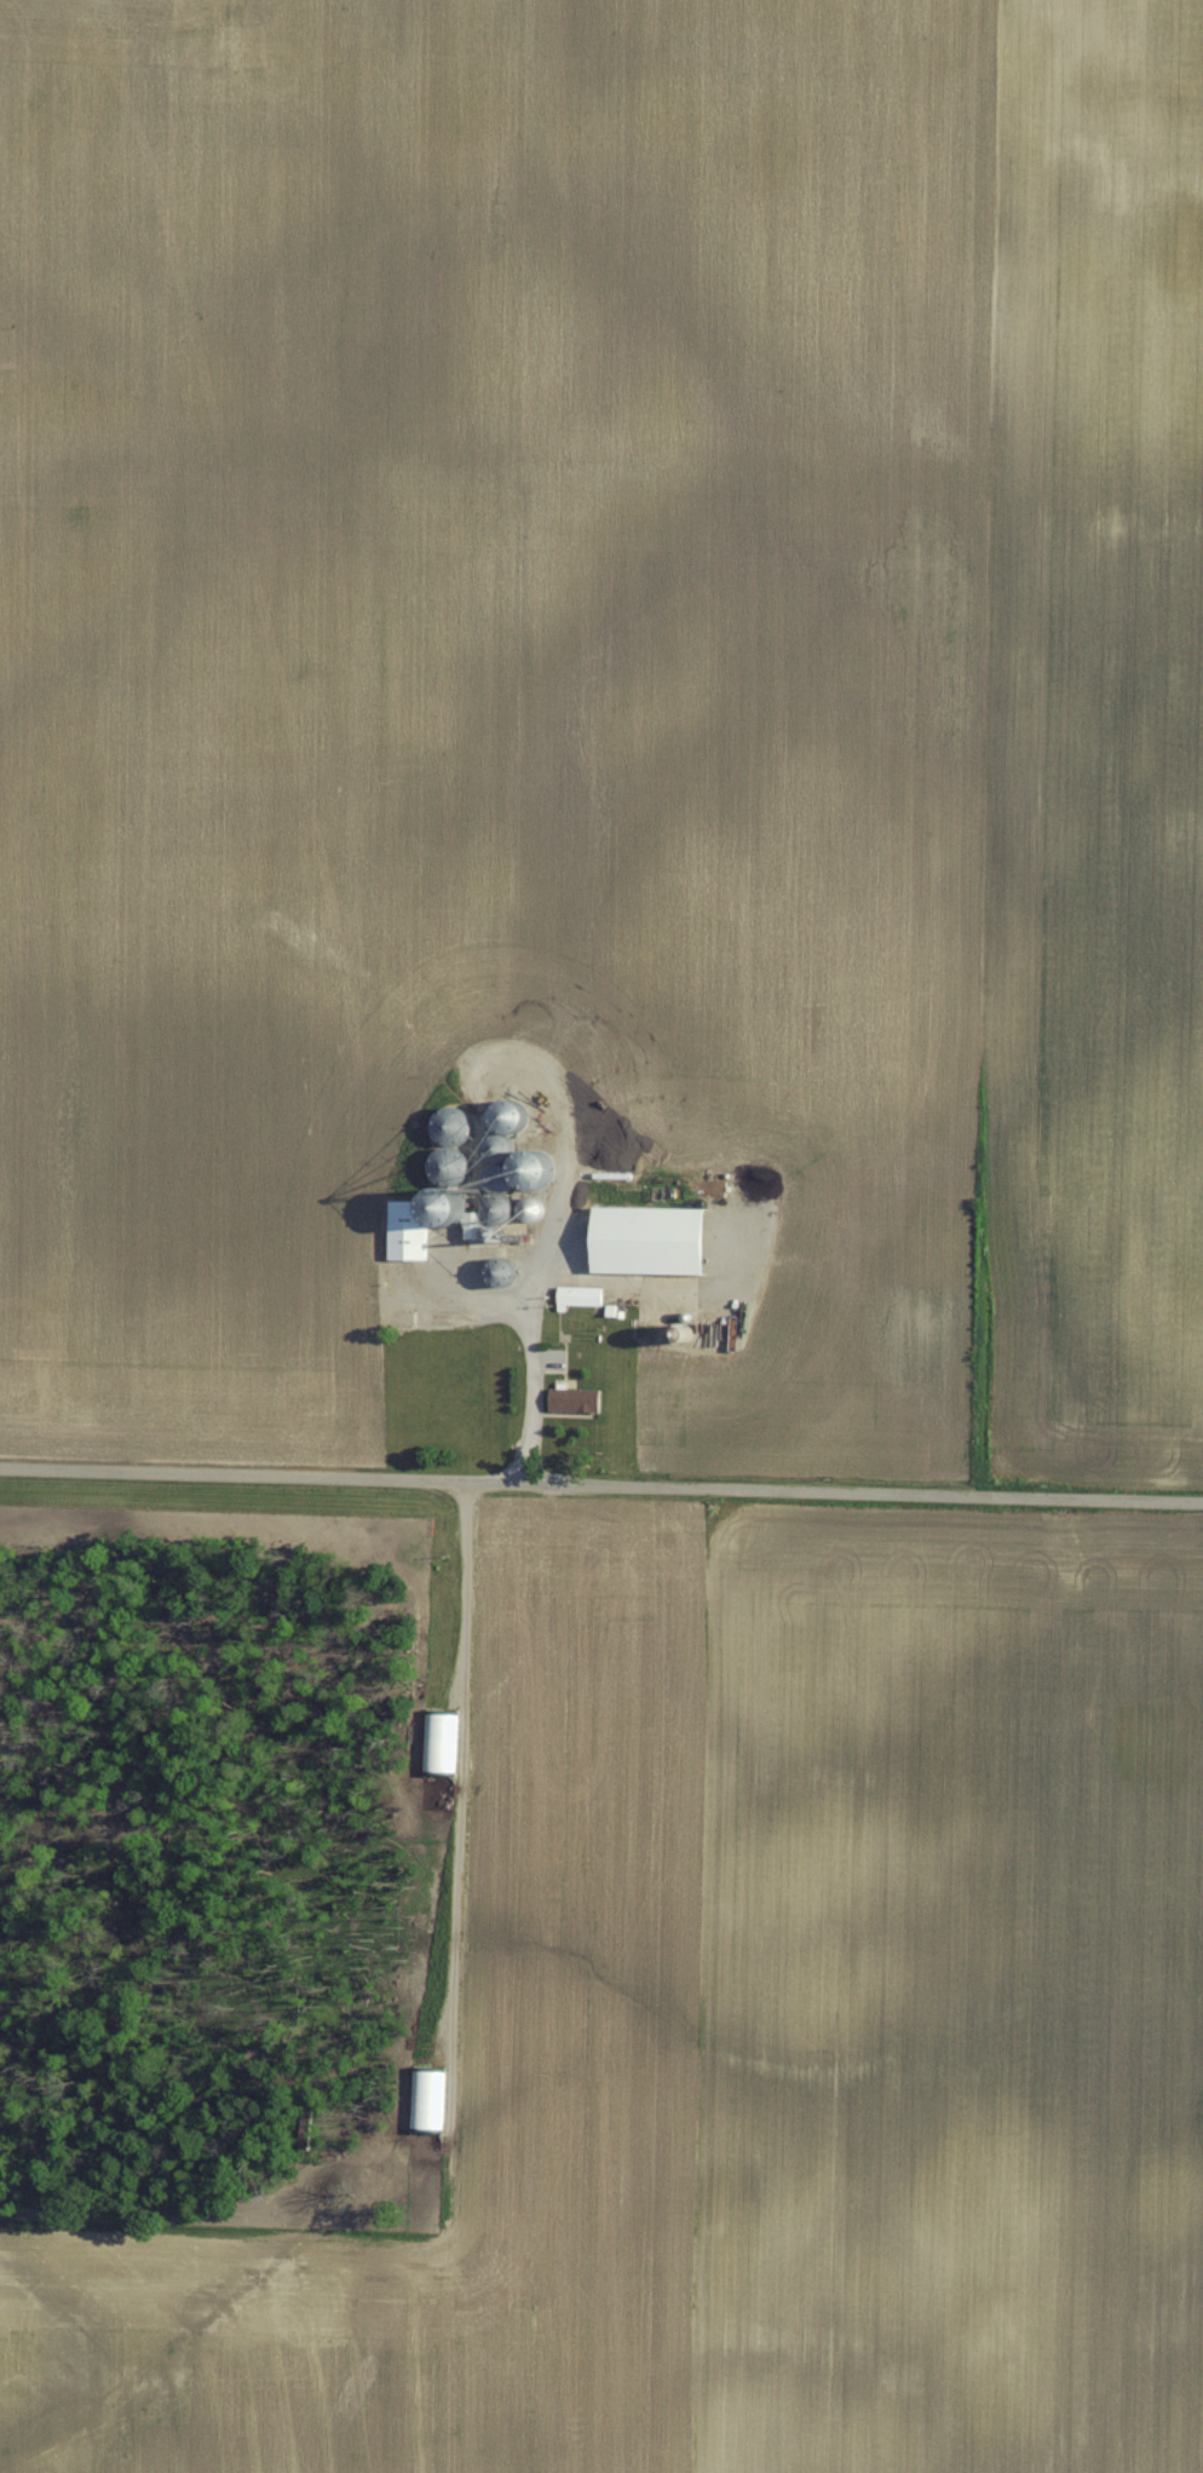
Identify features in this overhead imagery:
road: (529, 1330)
road: (601, 1482)
road: (460, 1769)

